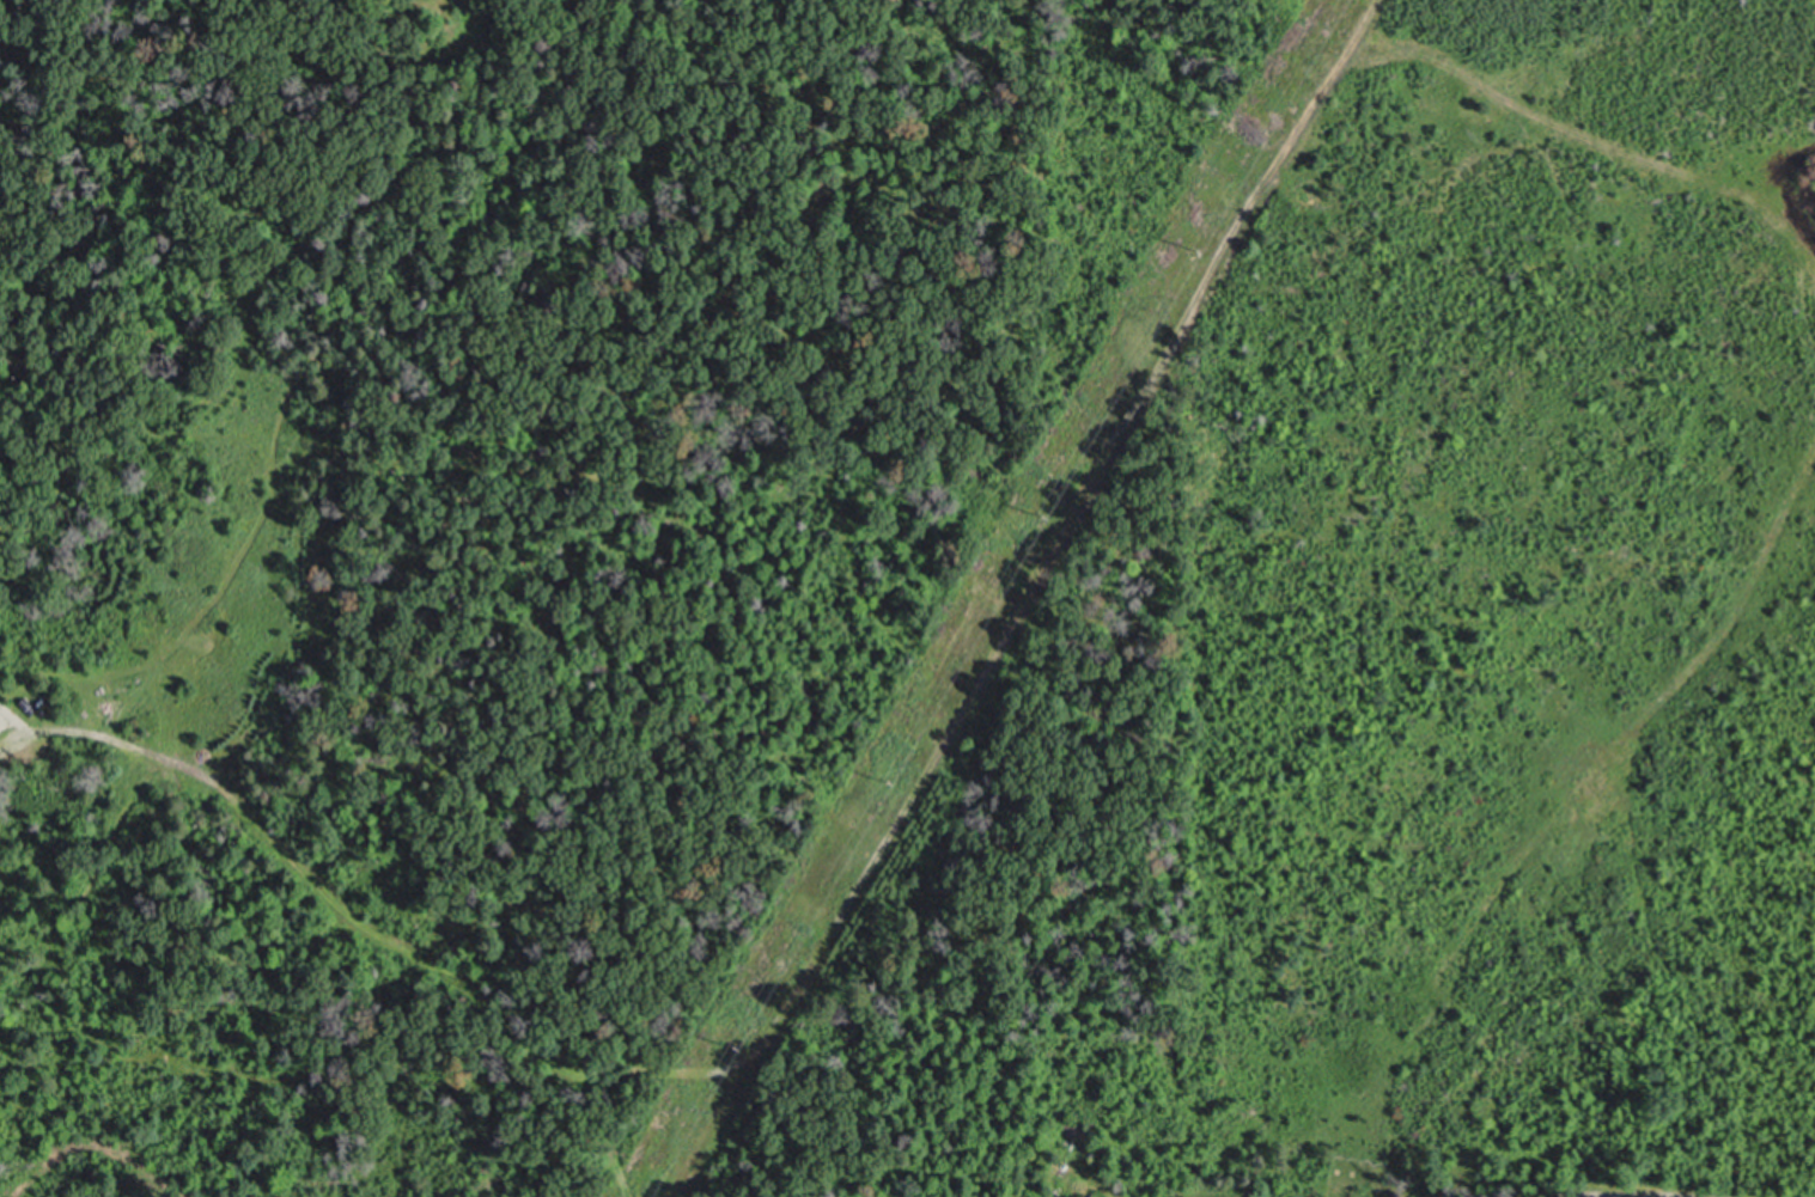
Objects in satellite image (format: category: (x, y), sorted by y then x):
power tower: (1196, 255)
power tower: (1046, 515)
power tower: (889, 787)
power tower: (735, 1045)

